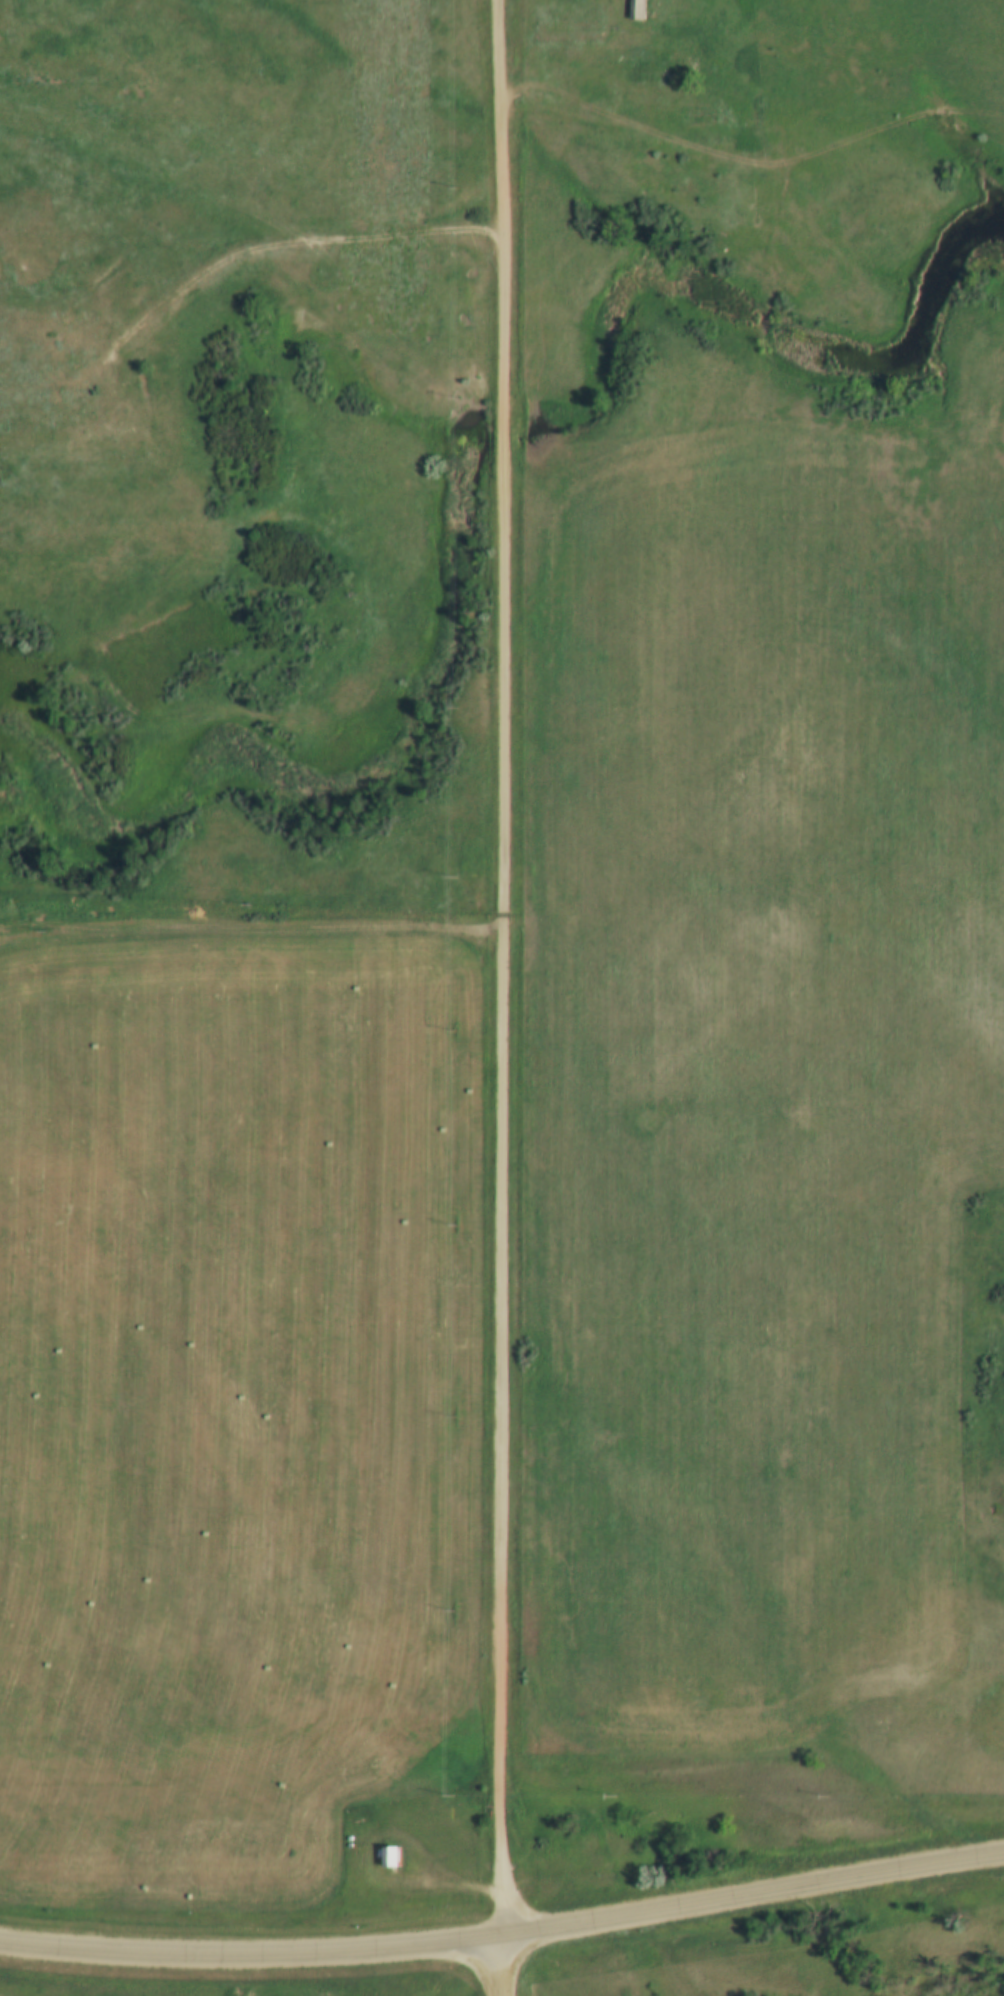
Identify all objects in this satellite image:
building: (635, 9)
road: (278, 246)
road: (248, 929)
road: (495, 968)
building: (387, 1855)
road: (750, 1896)
road: (248, 1954)
road: (498, 1966)

